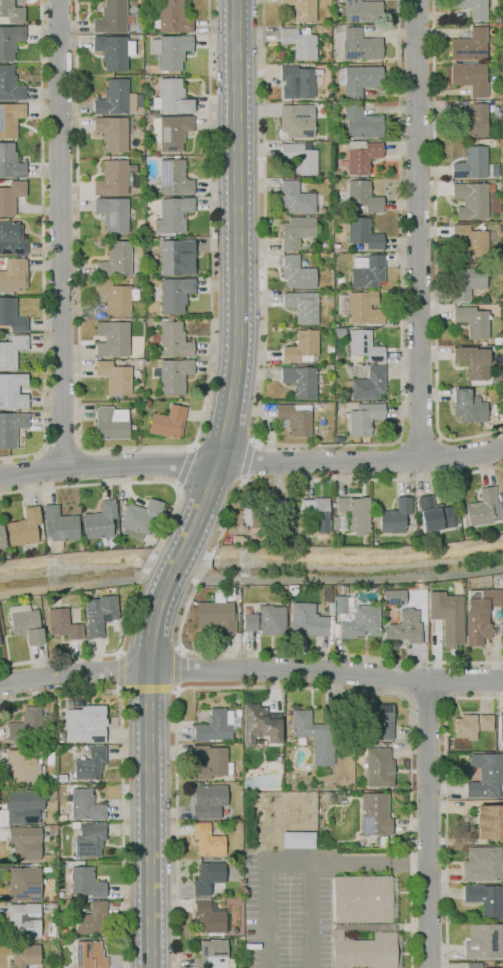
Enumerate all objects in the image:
building: (472, 8)
building: (301, 9)
building: (361, 11)
building: (11, 12)
building: (111, 17)
building: (170, 17)
building: (9, 41)
building: (299, 43)
building: (469, 45)
building: (360, 46)
building: (113, 51)
building: (170, 51)
building: (470, 78)
building: (358, 79)
building: (296, 82)
building: (9, 85)
building: (114, 98)
building: (171, 98)
building: (139, 111)
building: (149, 112)
building: (10, 119)
building: (296, 121)
building: (473, 122)
building: (360, 123)
building: (111, 132)
building: (170, 132)
building: (361, 156)
building: (299, 157)
building: (10, 162)
building: (471, 163)
building: (115, 178)
building: (173, 178)
building: (362, 196)
building: (10, 197)
building: (295, 198)
building: (471, 200)
building: (113, 214)
building: (172, 215)
building: (502, 227)
road: (417, 230)
building: (295, 231)
road: (59, 233)
road: (238, 233)
building: (362, 234)
building: (11, 239)
building: (470, 239)
road: (43, 246)
building: (335, 246)
road: (435, 250)
building: (174, 256)
building: (115, 260)
building: (366, 271)
building: (296, 273)
building: (13, 274)
building: (466, 281)
building: (174, 294)
building: (115, 296)
building: (302, 307)
building: (360, 307)
building: (11, 316)
building: (471, 321)
building: (337, 331)
building: (112, 339)
building: (169, 340)
building: (497, 340)
building: (363, 346)
building: (301, 347)
building: (11, 351)
building: (471, 361)
building: (139, 363)
building: (173, 376)
building: (494, 377)
building: (114, 378)
building: (300, 380)
building: (368, 384)
building: (12, 391)
building: (328, 405)
building: (467, 406)
building: (294, 418)
building: (364, 419)
building: (167, 422)
building: (109, 425)
building: (10, 428)
road: (420, 438)
road: (327, 444)
road: (137, 446)
road: (81, 448)
road: (62, 451)
road: (43, 452)
road: (439, 456)
road: (249, 460)
road: (389, 461)
road: (251, 462)
road: (214, 476)
road: (331, 479)
road: (158, 482)
road: (31, 490)
building: (483, 508)
building: (271, 510)
building: (316, 512)
building: (354, 513)
building: (433, 514)
building: (394, 516)
building: (139, 517)
building: (100, 523)
building: (334, 523)
building: (341, 523)
building: (58, 527)
building: (24, 528)
road: (191, 534)
building: (1, 537)
road: (206, 565)
road: (145, 569)
road: (189, 569)
road: (202, 573)
road: (352, 578)
road: (154, 579)
road: (70, 585)
building: (85, 594)
building: (393, 597)
building: (340, 604)
building: (99, 614)
building: (480, 615)
building: (216, 616)
building: (446, 616)
building: (265, 620)
building: (306, 621)
building: (25, 623)
building: (360, 623)
building: (62, 624)
building: (404, 627)
road: (299, 653)
road: (96, 654)
road: (177, 670)
road: (118, 671)
road: (251, 671)
road: (409, 679)
road: (446, 681)
road: (288, 687)
road: (147, 688)
road: (427, 701)
building: (237, 712)
building: (379, 719)
building: (484, 722)
building: (260, 724)
building: (25, 725)
building: (500, 726)
building: (81, 727)
building: (214, 727)
building: (465, 727)
building: (313, 739)
building: (208, 762)
building: (89, 764)
building: (23, 766)
building: (378, 768)
road: (122, 770)
road: (148, 772)
building: (485, 775)
building: (61, 778)
building: (208, 801)
building: (23, 805)
building: (81, 805)
road: (445, 806)
building: (374, 814)
building: (60, 817)
building: (489, 822)
road: (426, 824)
building: (50, 832)
building: (88, 840)
building: (207, 840)
building: (298, 840)
building: (24, 842)
building: (382, 842)
building: (48, 857)
road: (345, 863)
building: (481, 864)
building: (235, 865)
building: (50, 868)
building: (207, 877)
building: (86, 882)
building: (22, 883)
building: (363, 899)
building: (484, 899)
building: (52, 915)
road: (309, 915)
road: (264, 916)
building: (208, 917)
building: (24, 919)
building: (90, 919)
building: (365, 927)
building: (50, 931)
building: (483, 941)
building: (43, 943)
building: (252, 946)
building: (397, 946)
building: (363, 950)
building: (88, 953)
building: (211, 954)
building: (23, 955)
building: (474, 965)

